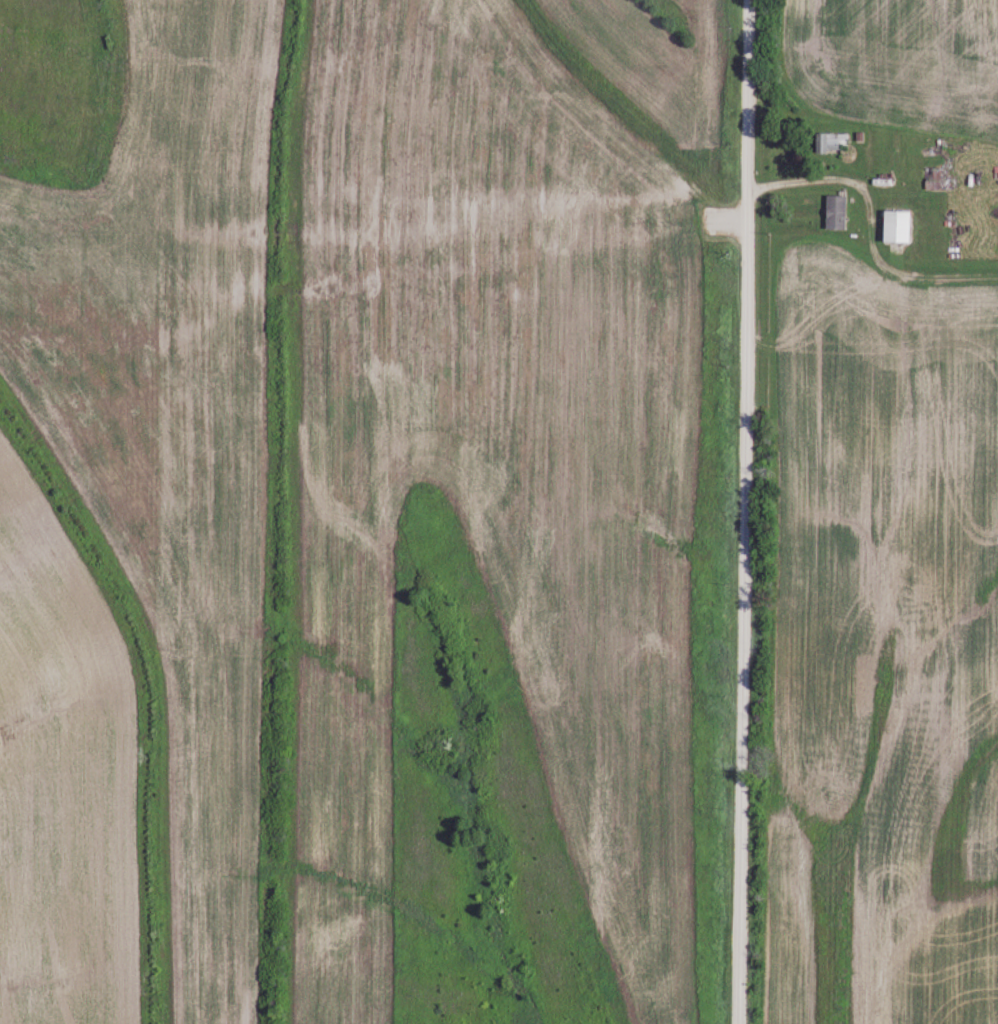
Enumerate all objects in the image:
building: (836, 211)
building: (897, 224)
road: (743, 512)

